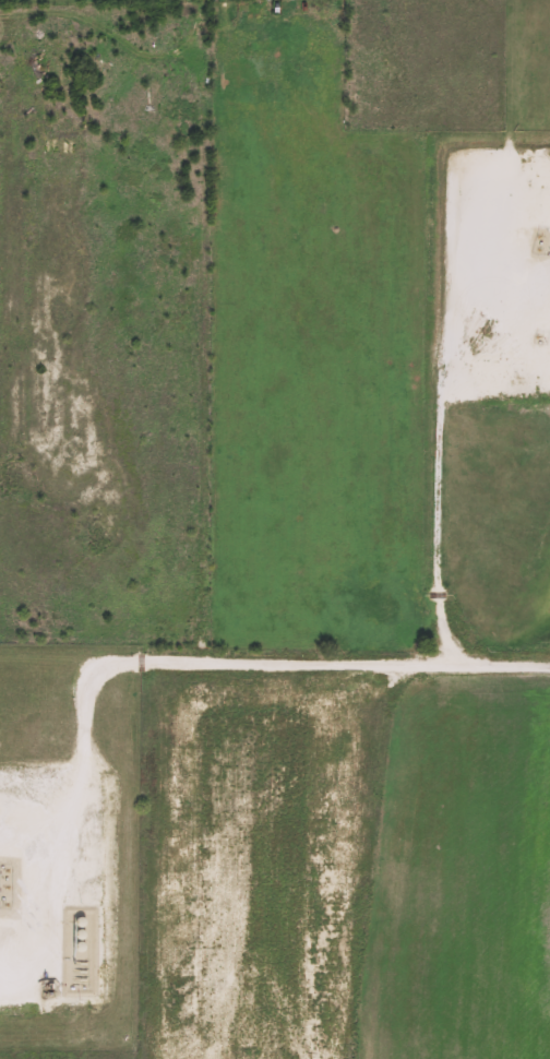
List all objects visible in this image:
road: (323, 665)

